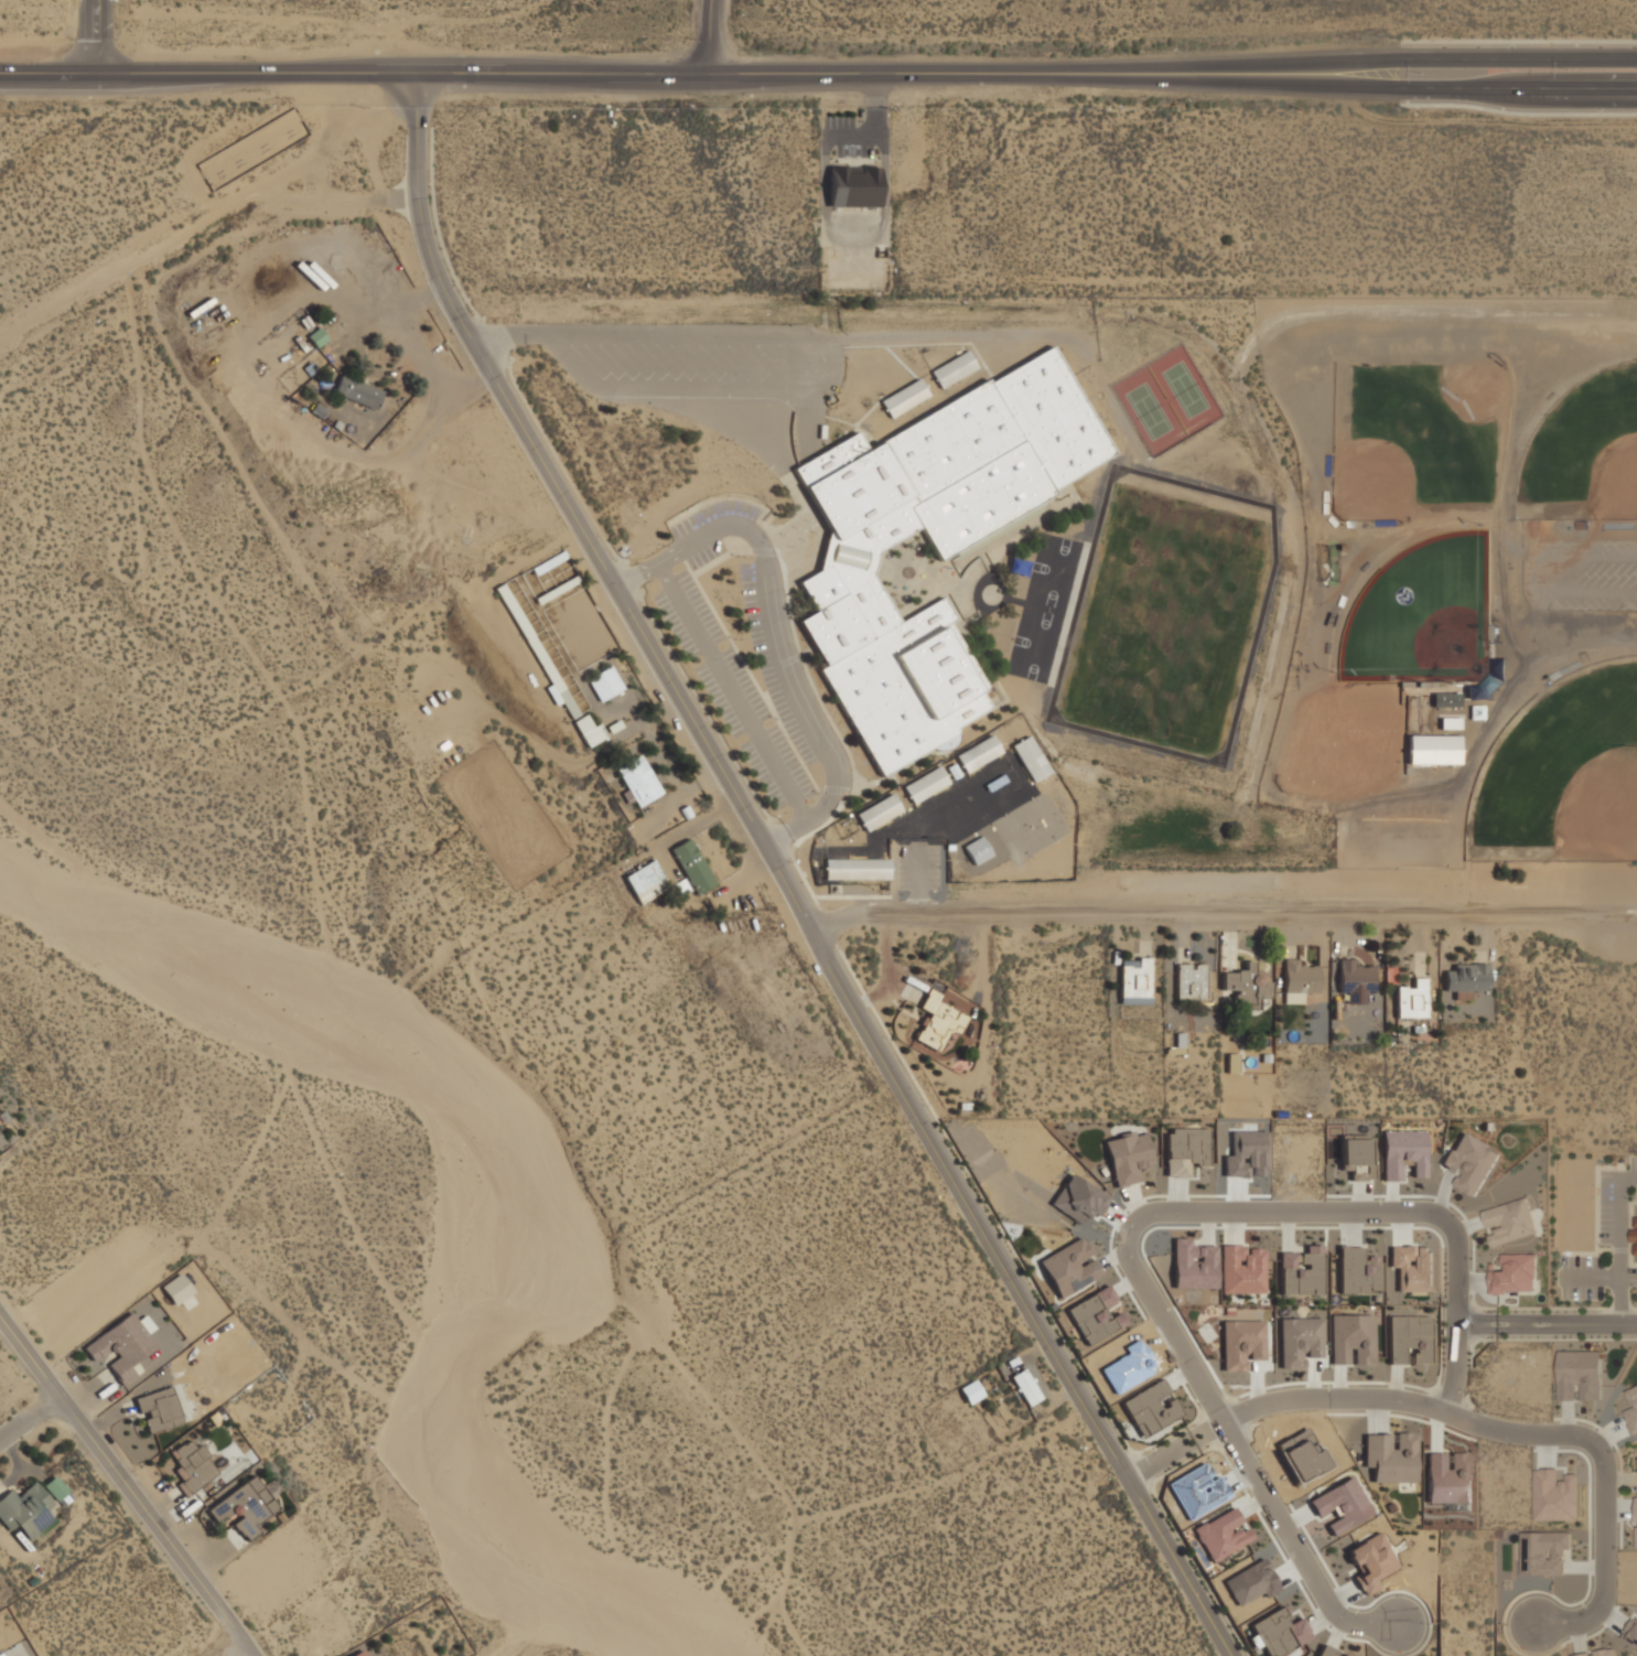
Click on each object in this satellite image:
road: (89, 36)
road: (107, 36)
road: (712, 37)
road: (1462, 57)
road: (644, 74)
road: (1462, 89)
building: (853, 185)
road: (341, 194)
road: (133, 260)
road: (771, 334)
building: (316, 335)
parking lot: (660, 359)
building: (952, 367)
road: (823, 385)
park: (1183, 389)
building: (357, 390)
road: (669, 390)
building: (904, 396)
park: (1148, 411)
park: (1399, 451)
park: (1584, 452)
parking lot: (712, 529)
building: (929, 544)
building: (547, 566)
road: (1533, 576)
parking lot: (1583, 576)
road: (628, 577)
park: (1422, 614)
park: (1166, 615)
road: (774, 633)
building: (543, 652)
parking lot: (769, 662)
building: (604, 682)
road: (730, 689)
parking lot: (732, 692)
building: (1446, 698)
building: (589, 729)
building: (1434, 749)
building: (978, 752)
building: (1031, 757)
park: (1562, 773)
building: (638, 779)
building: (926, 783)
building: (877, 810)
park: (1044, 818)
park: (1016, 834)
road: (776, 836)
building: (978, 849)
building: (692, 865)
parking lot: (918, 867)
building: (855, 869)
road: (782, 875)
building: (645, 880)
road: (918, 884)
road: (1224, 915)
building: (1466, 978)
building: (1135, 979)
building: (1297, 979)
building: (1354, 979)
building: (1192, 981)
building: (1246, 986)
building: (1412, 999)
building: (938, 1021)
building: (1186, 1150)
building: (1403, 1153)
building: (1356, 1155)
building: (1128, 1158)
building: (1469, 1162)
river: (464, 1204)
building: (1497, 1216)
road: (1139, 1222)
building: (1634, 1235)
building: (1499, 1237)
building: (1193, 1265)
building: (1069, 1267)
building: (1412, 1268)
building: (1241, 1269)
building: (1301, 1271)
building: (1358, 1271)
building: (1514, 1273)
building: (176, 1289)
building: (1095, 1315)
road: (1476, 1325)
road: (1565, 1325)
building: (1351, 1338)
building: (1409, 1340)
building: (1300, 1341)
building: (1241, 1343)
building: (120, 1347)
building: (1579, 1375)
building: (1024, 1386)
building: (971, 1390)
building: (1149, 1409)
building: (159, 1410)
road: (28, 1418)
road: (1505, 1433)
road: (1162, 1458)
building: (1390, 1458)
building: (192, 1464)
building: (1448, 1478)
building: (54, 1487)
road: (126, 1487)
building: (1554, 1495)
building: (1342, 1505)
building: (244, 1507)
building: (25, 1509)
building: (1636, 1509)
building: (1221, 1535)
building: (1636, 1537)
building: (1544, 1552)
building: (1370, 1562)
building: (1630, 1631)
building: (1280, 1632)
road: (224, 1646)
building: (1326, 1650)
building: (359, 1653)
building: (1598, 1653)
building: (1, 1654)
building: (1344, 1655)

